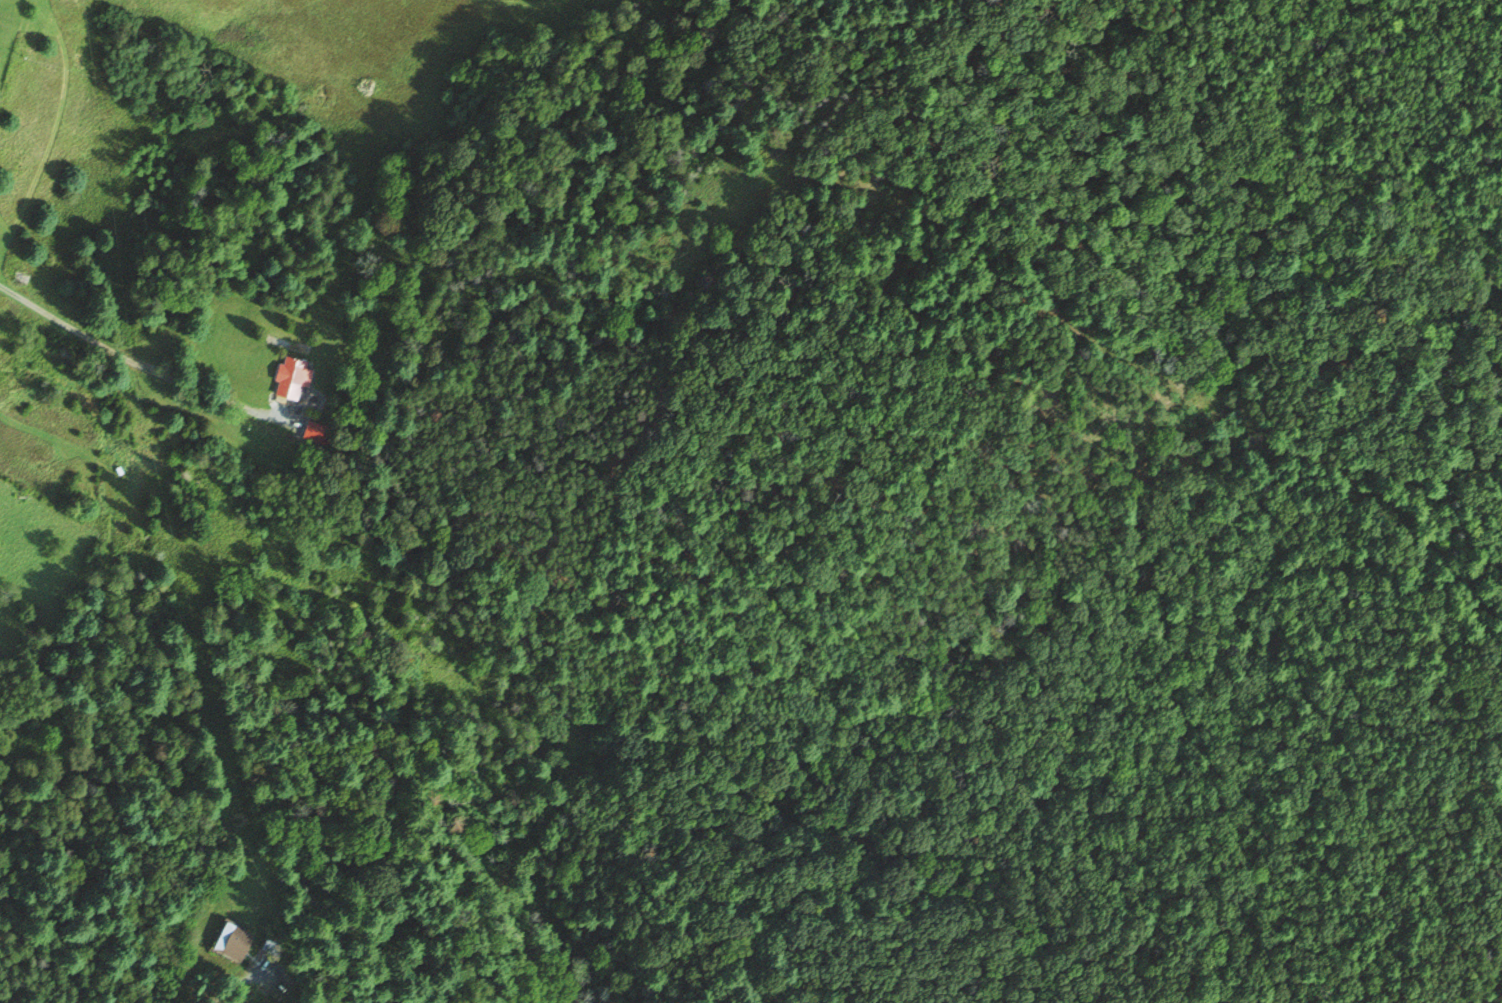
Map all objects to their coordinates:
road: (130, 361)
building: (291, 376)
building: (316, 433)
building: (231, 941)
road: (228, 983)

